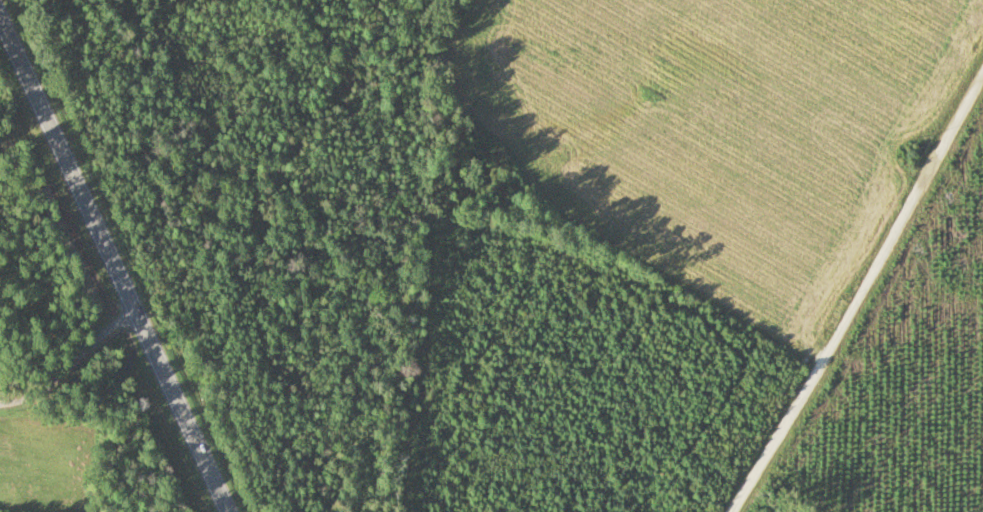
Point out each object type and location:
road: (23, 111)
road: (111, 259)
road: (861, 294)
road: (85, 367)

